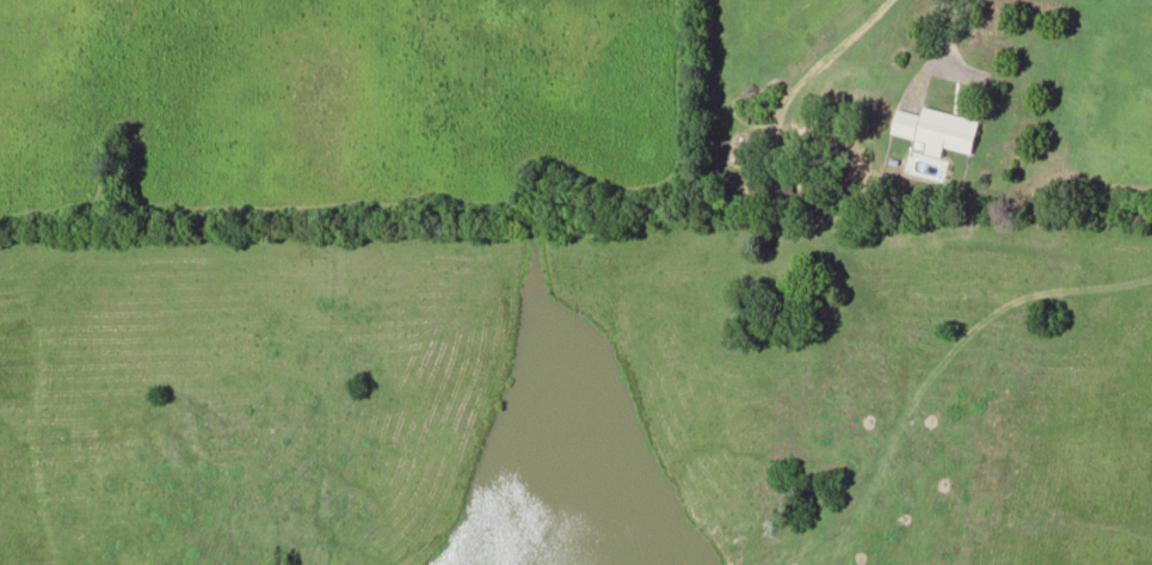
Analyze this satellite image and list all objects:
building: (936, 128)

